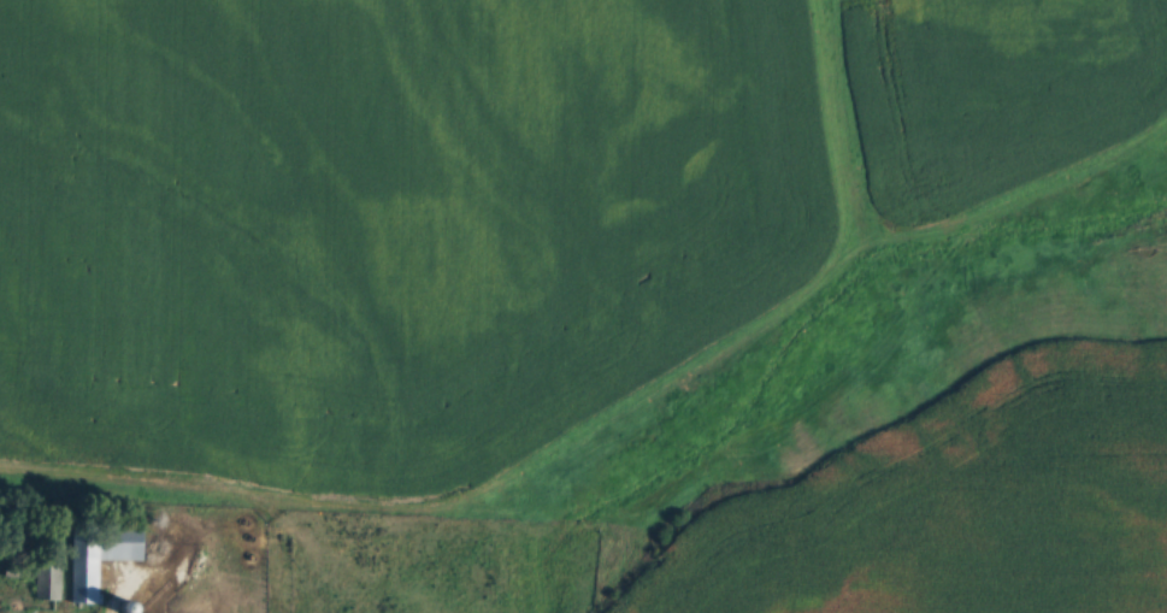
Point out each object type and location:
building: (100, 558)

